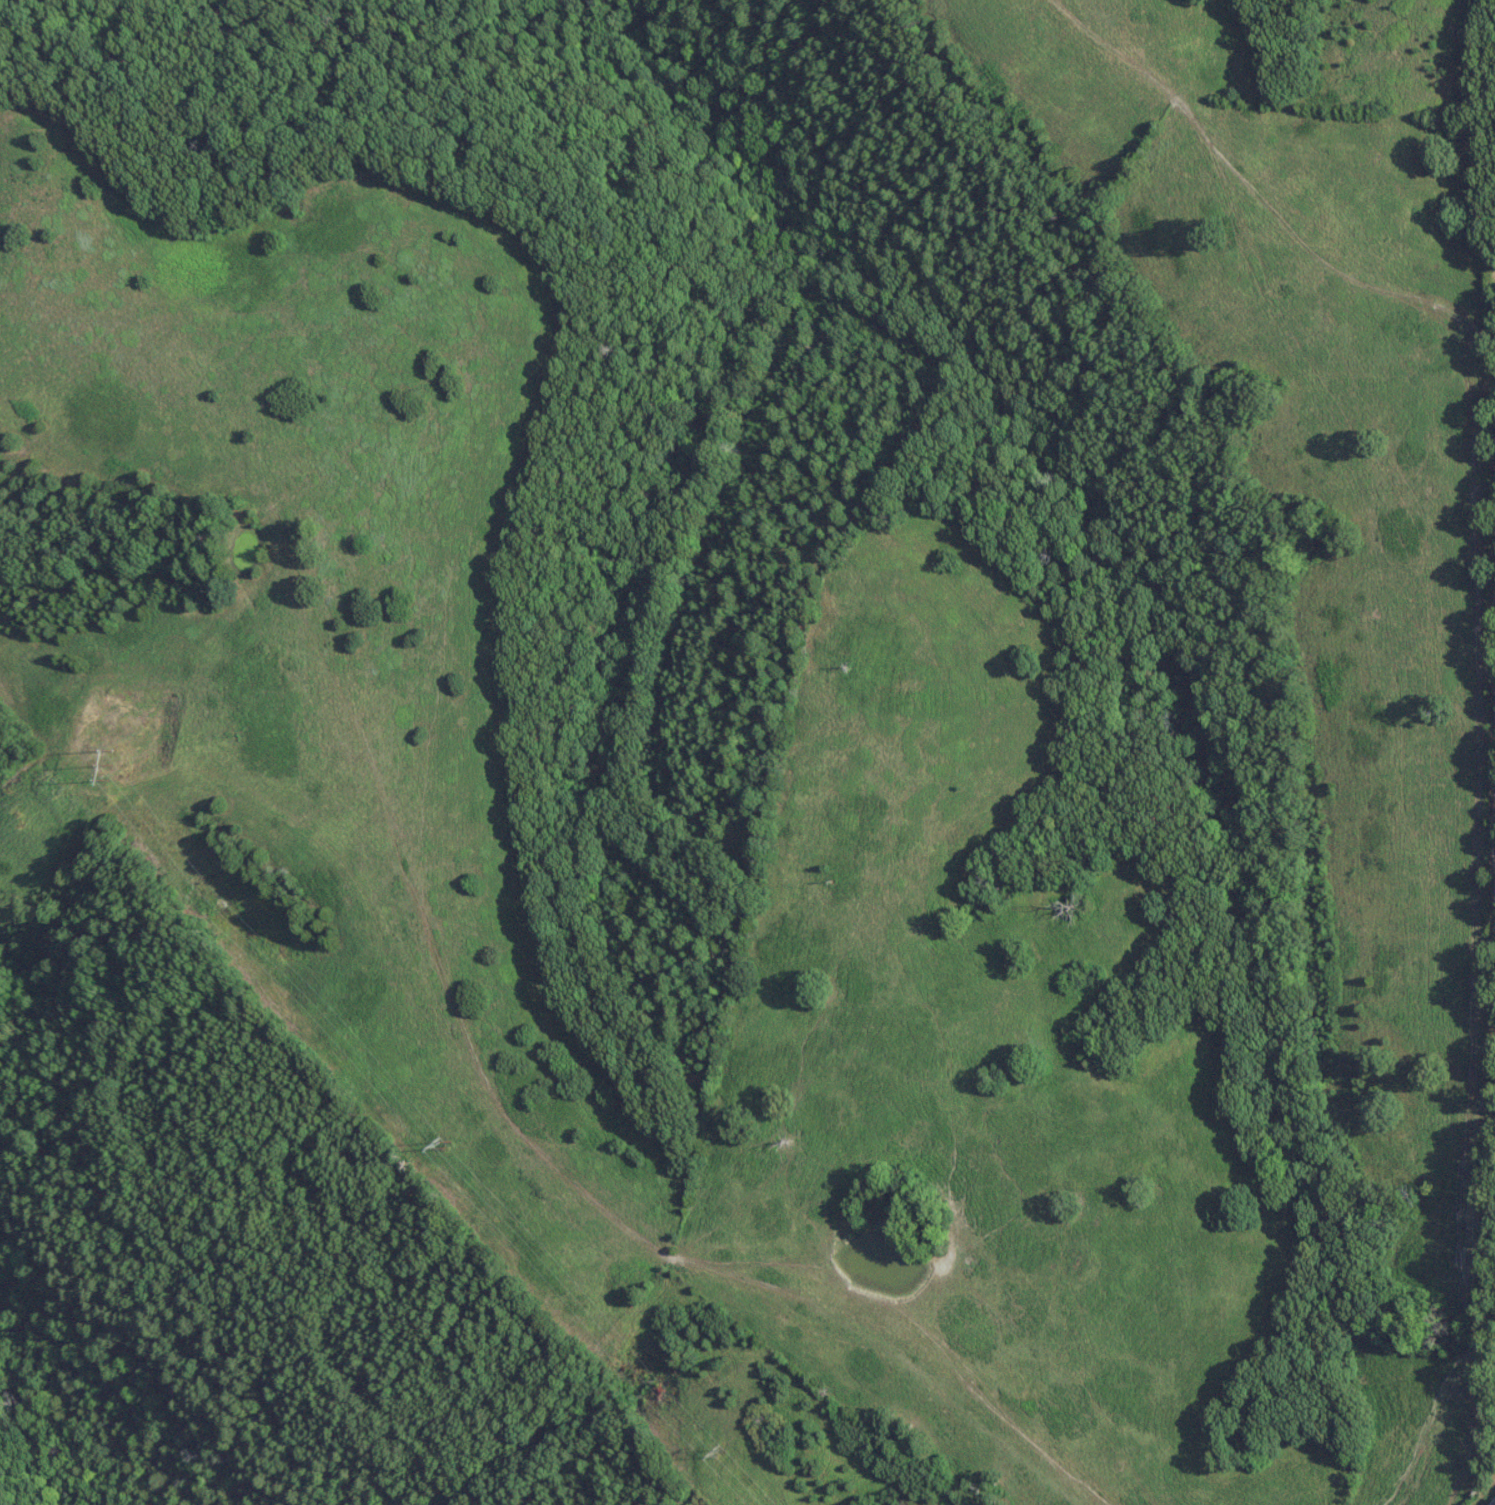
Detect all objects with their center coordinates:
power tower: (111, 765)
power tower: (450, 1147)
power tower: (725, 1457)

